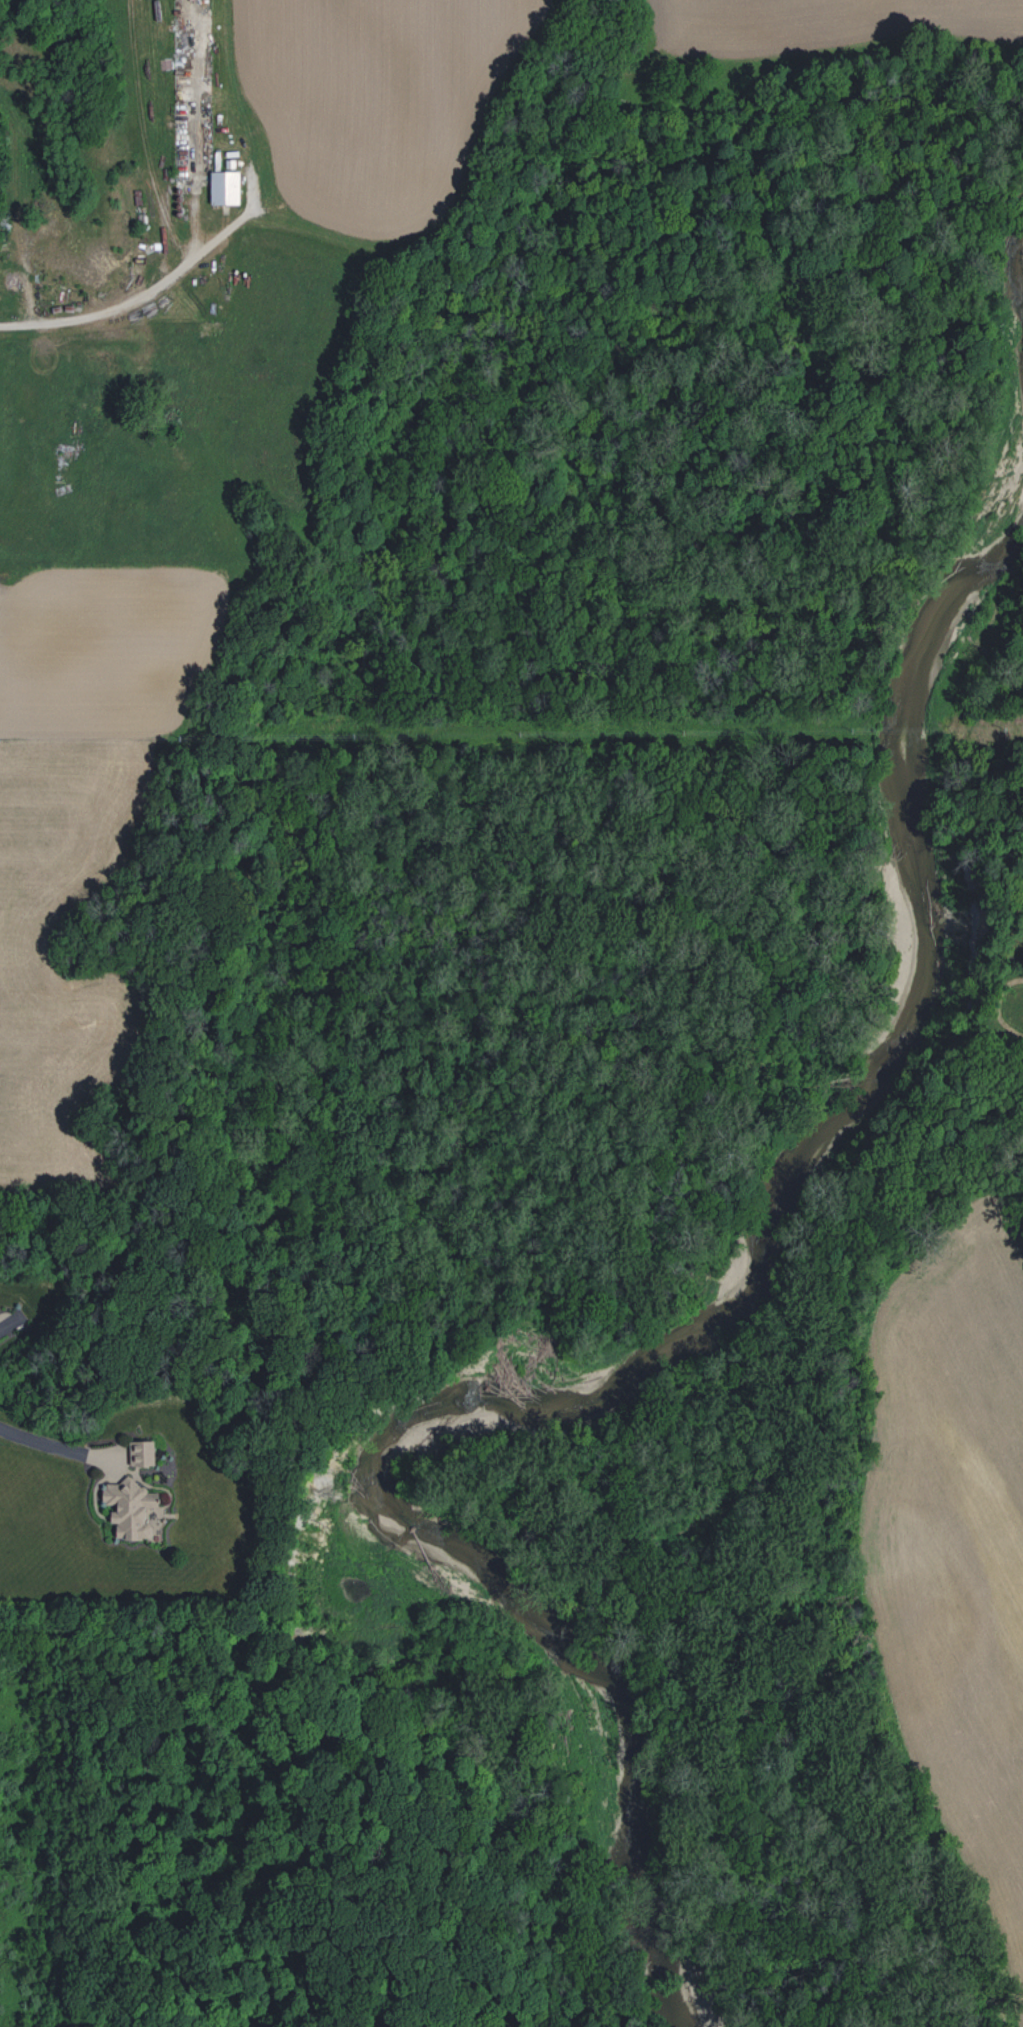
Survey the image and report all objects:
building: (225, 187)
road: (211, 243)
road: (88, 319)
road: (37, 1439)
building: (142, 1453)
building: (130, 1508)

